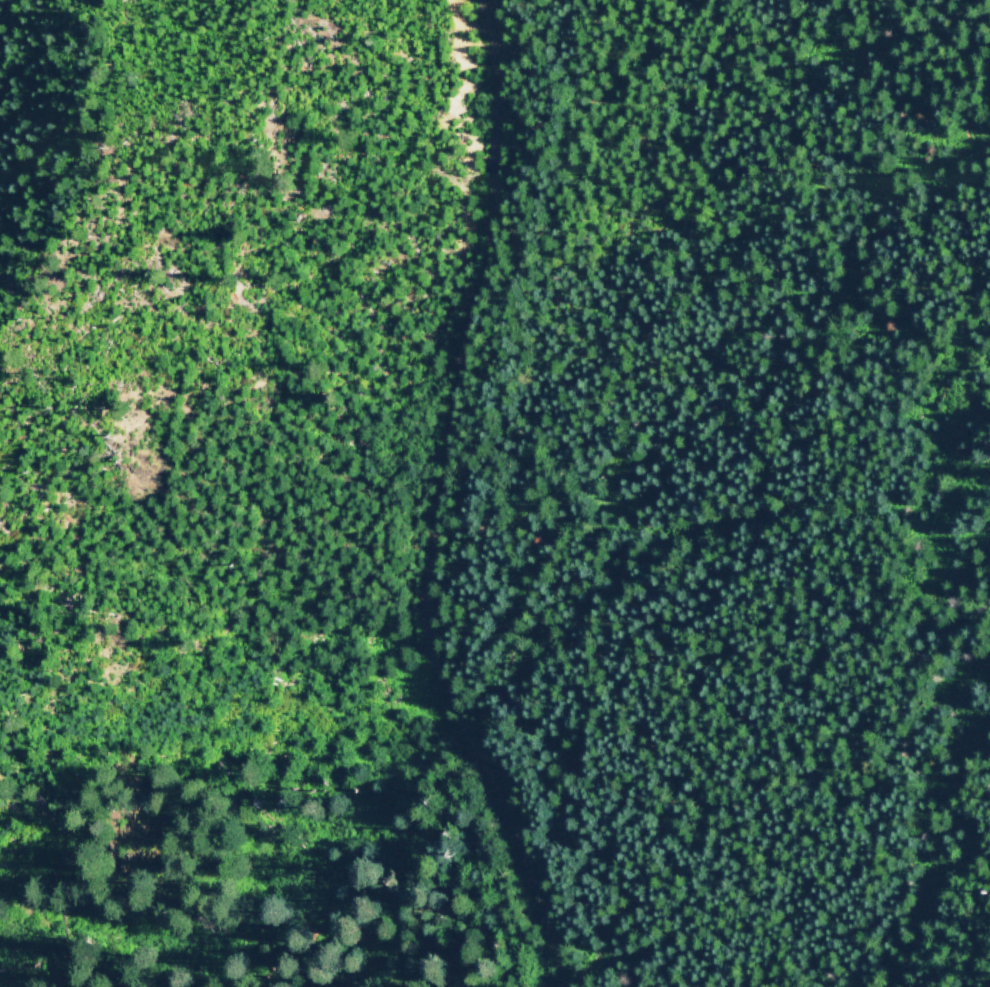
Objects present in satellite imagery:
road: (416, 503)

